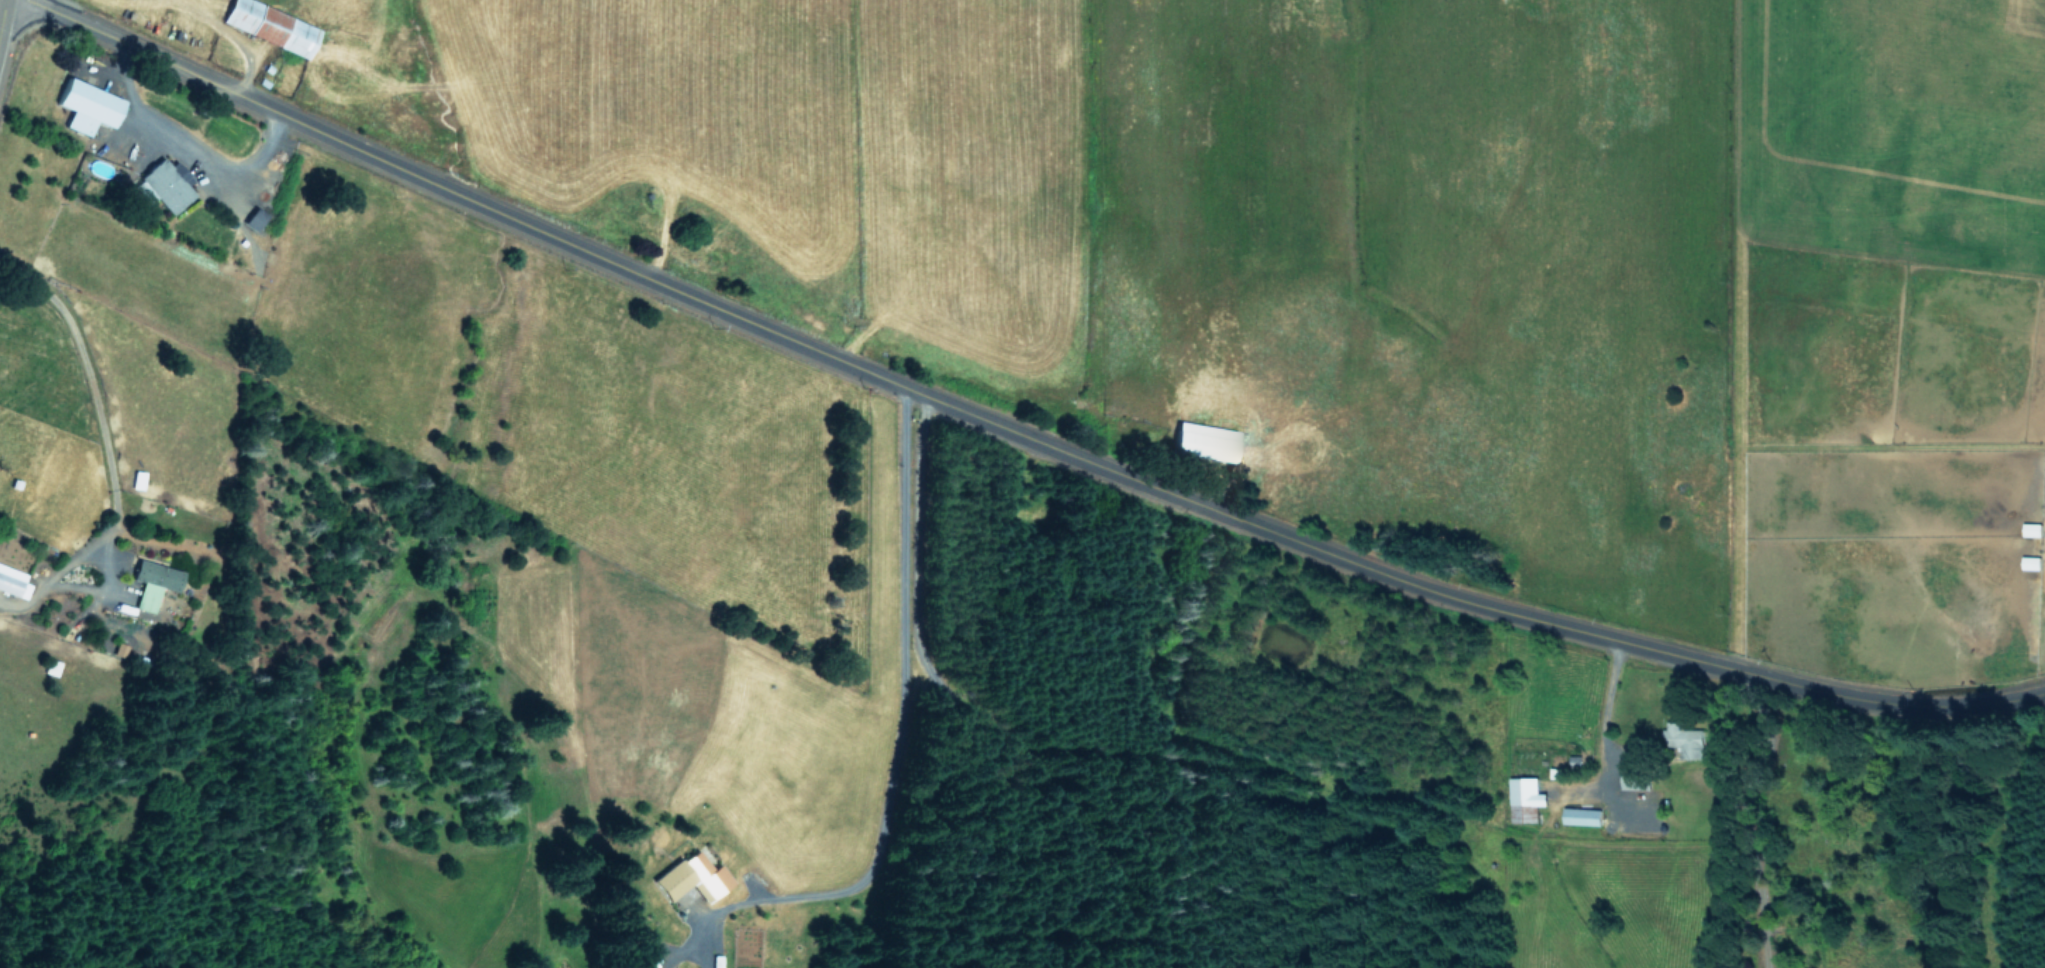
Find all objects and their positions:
road: (0, 1)
building: (276, 25)
building: (91, 105)
road: (188, 142)
building: (172, 183)
building: (253, 217)
crop: (1062, 302)
road: (1009, 426)
building: (1203, 440)
road: (108, 442)
building: (136, 479)
building: (2030, 528)
building: (13, 581)
building: (152, 581)
building: (119, 649)
road: (1606, 707)
road: (896, 727)
building: (1683, 739)
building: (1525, 798)
building: (1580, 815)
building: (690, 876)

